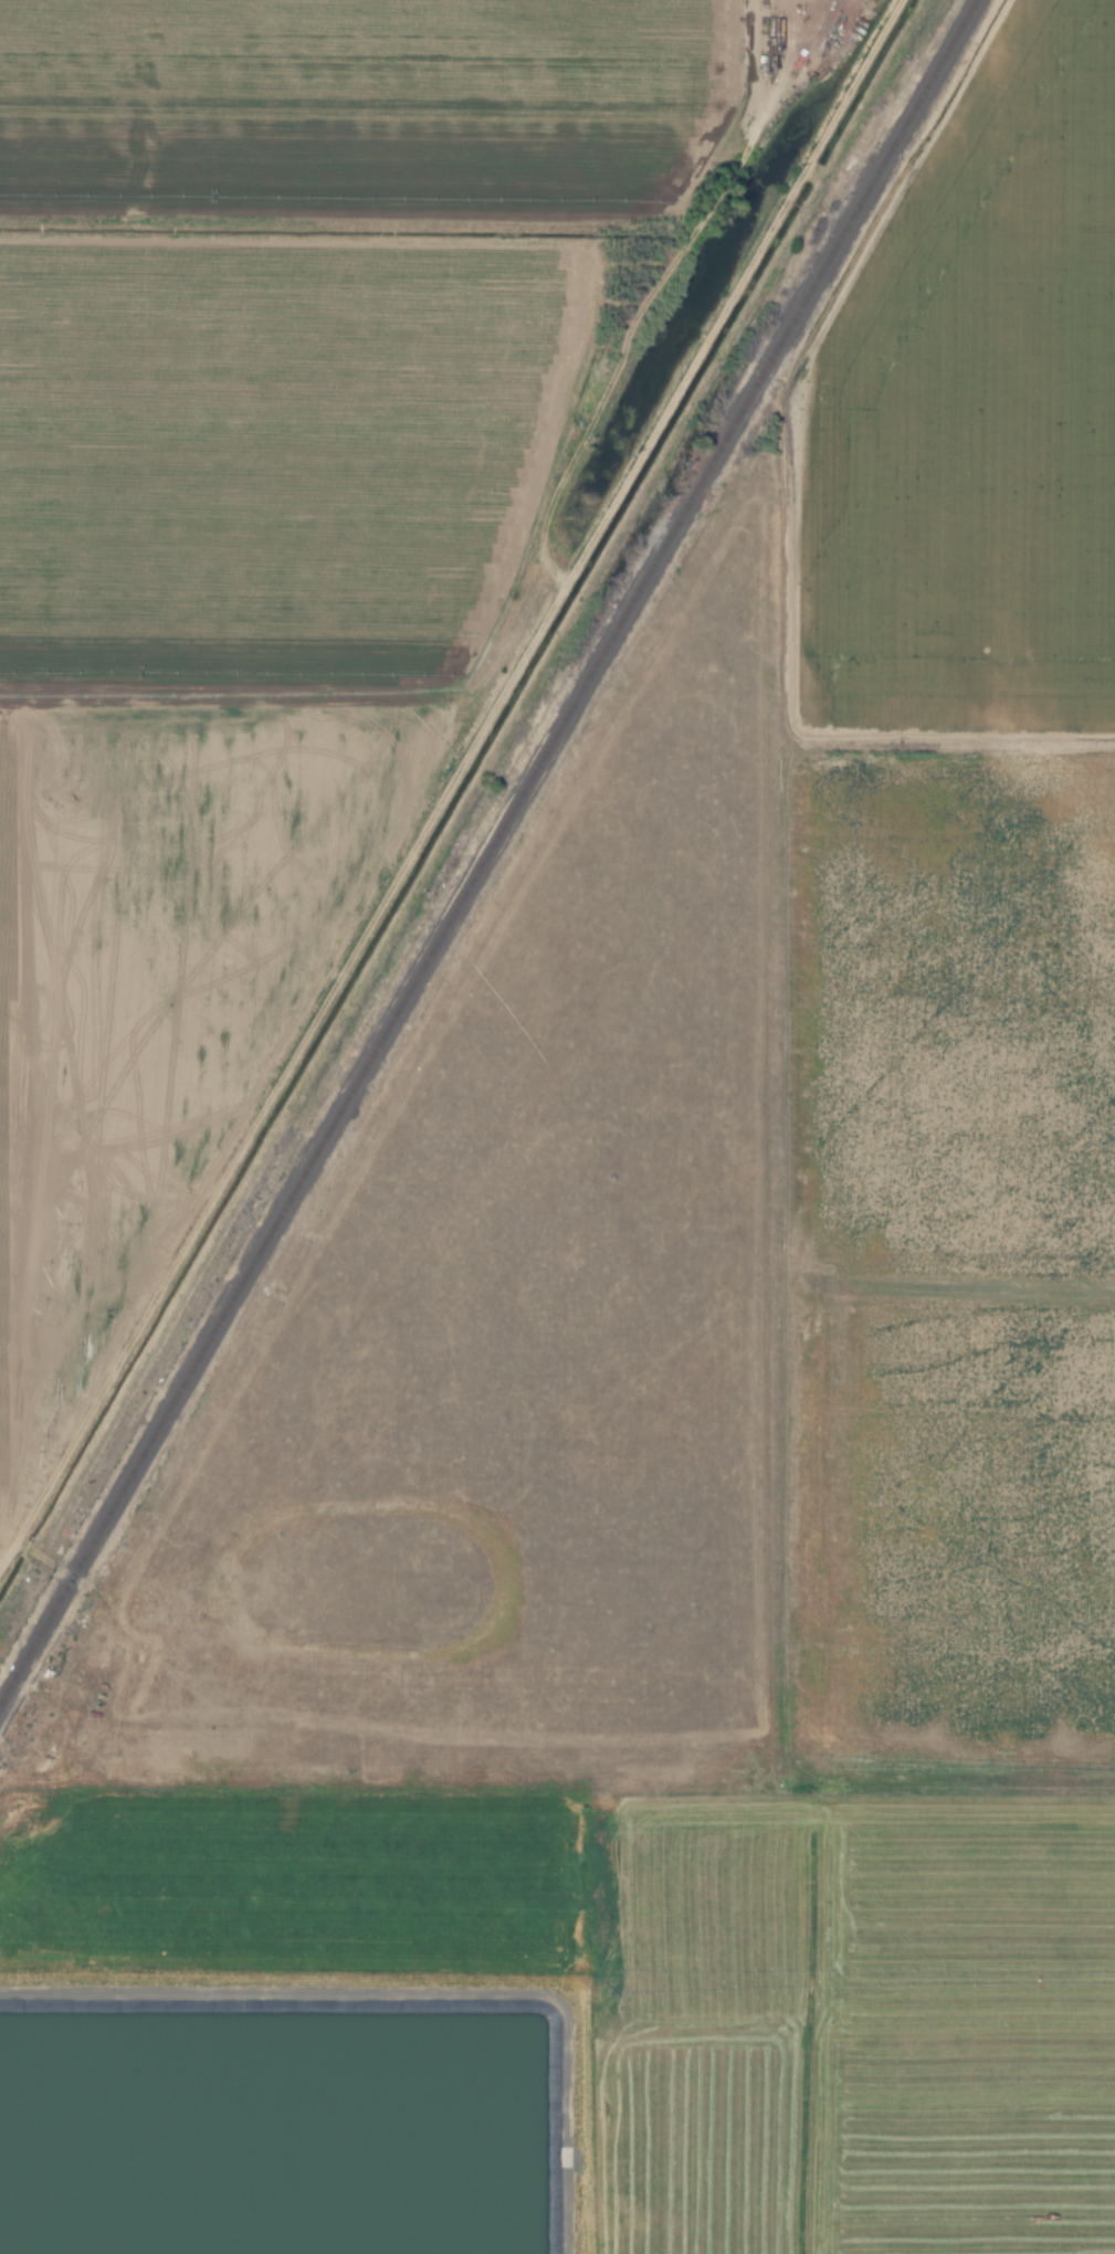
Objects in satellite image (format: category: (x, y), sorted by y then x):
building: (187, 168)
building: (210, 481)
crop: (275, 520)
railway: (487, 849)
crop: (720, 1357)

